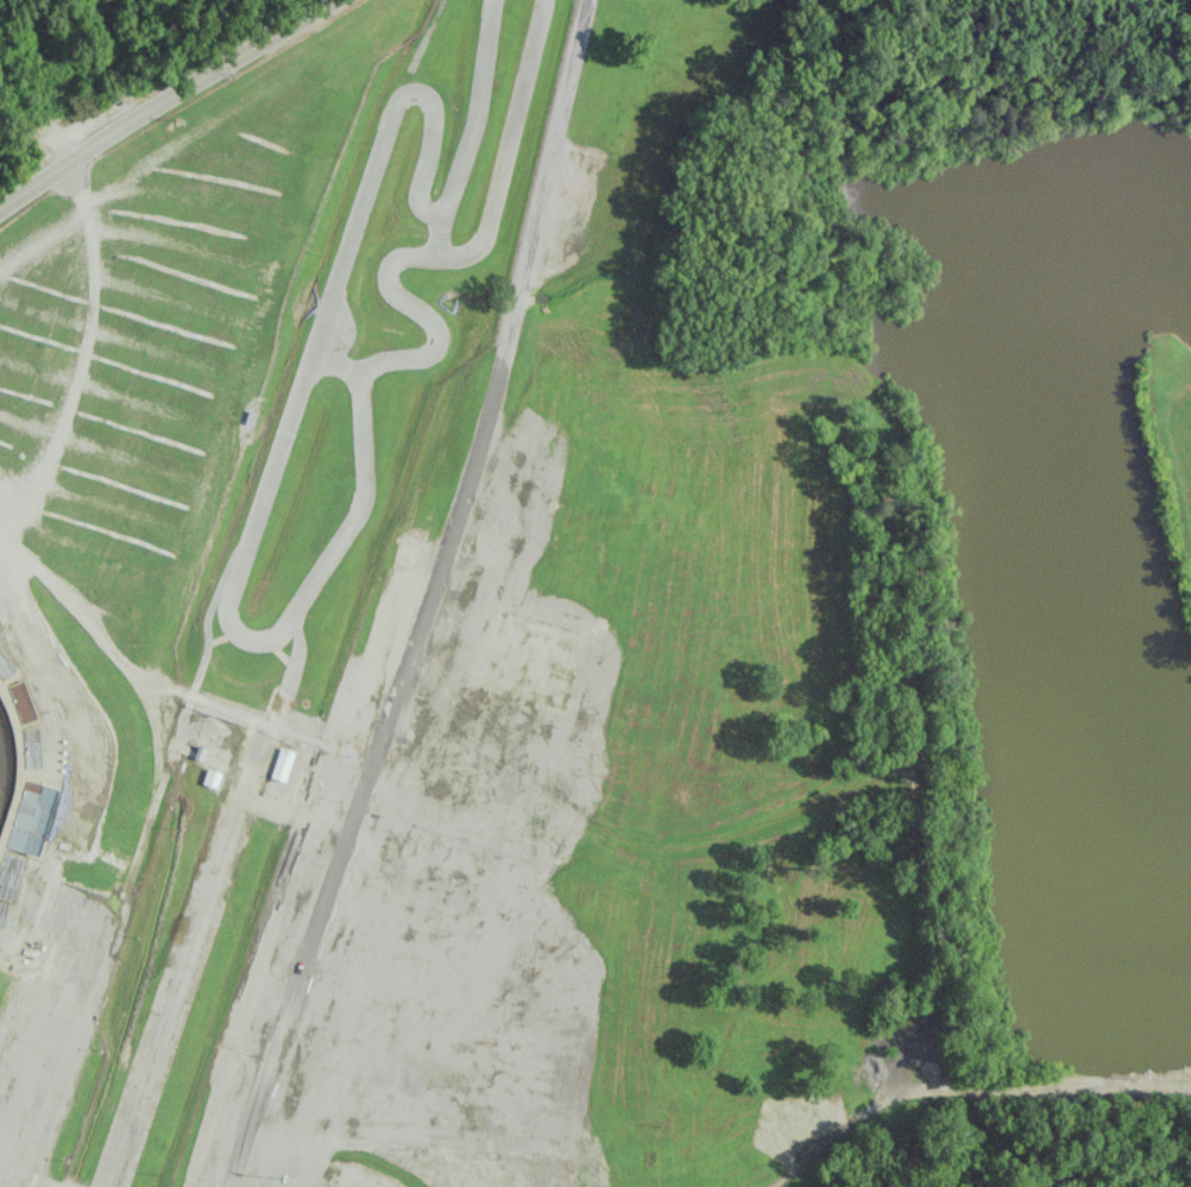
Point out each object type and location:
road: (164, 100)
road: (428, 598)

